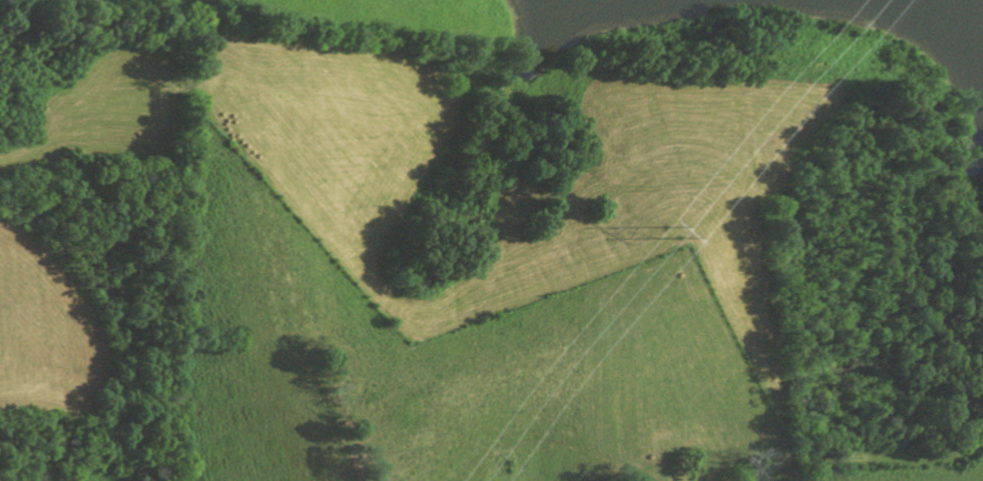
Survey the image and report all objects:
power tower: (670, 233)

